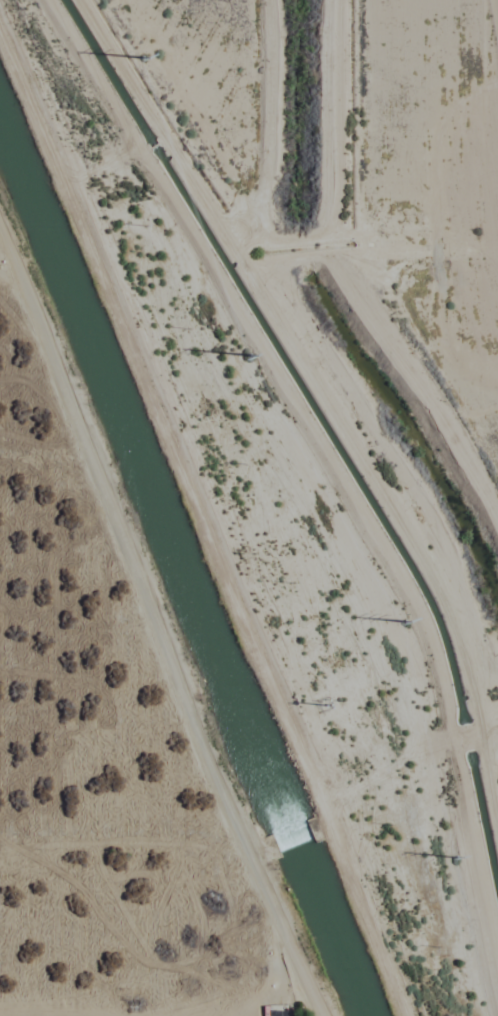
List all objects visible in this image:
solar farm: (495, 15)
power tower: (144, 54)
power tower: (251, 353)
road: (206, 522)
power tower: (406, 618)
power tower: (457, 853)
building: (276, 1013)

